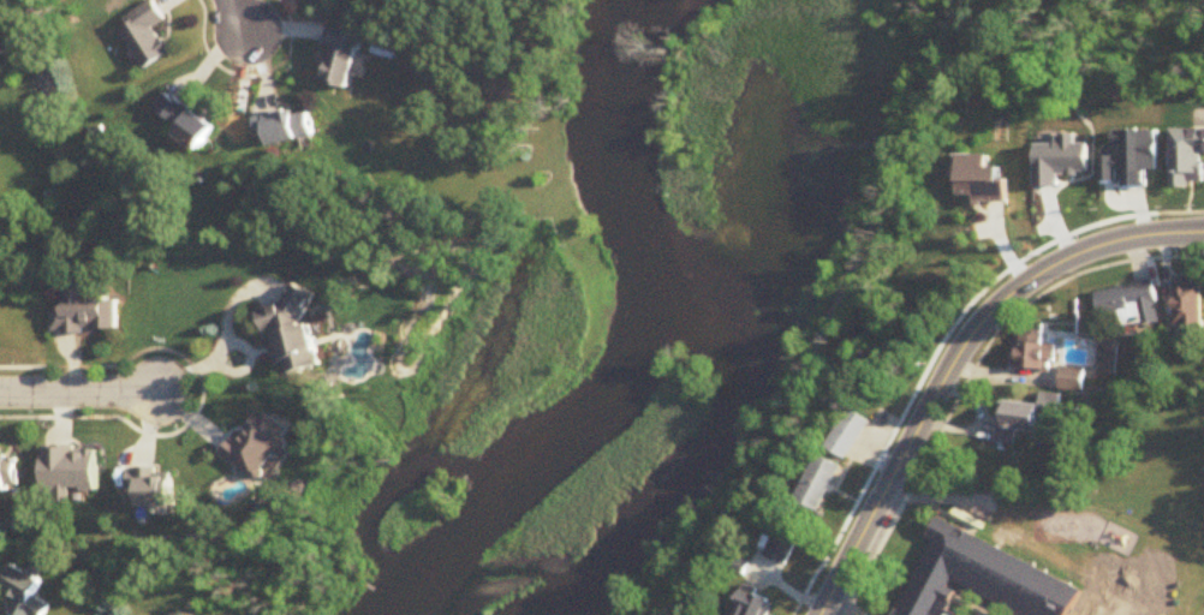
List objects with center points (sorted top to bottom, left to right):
road: (239, 17)
building: (145, 36)
building: (342, 60)
building: (186, 123)
building: (287, 127)
building: (982, 181)
building: (359, 213)
road: (1075, 255)
building: (1186, 304)
building: (1130, 306)
road: (594, 310)
building: (85, 311)
road: (832, 317)
building: (294, 334)
river: (707, 335)
building: (1032, 358)
road: (970, 366)
road: (81, 389)
building: (1027, 418)
building: (852, 435)
building: (260, 444)
park: (1145, 444)
road: (895, 472)
building: (8, 476)
building: (824, 484)
park: (1103, 544)
building: (981, 579)
building: (24, 593)
building: (757, 605)
road: (1084, 607)
parking lot: (1101, 608)
road: (799, 610)
road: (1110, 611)

